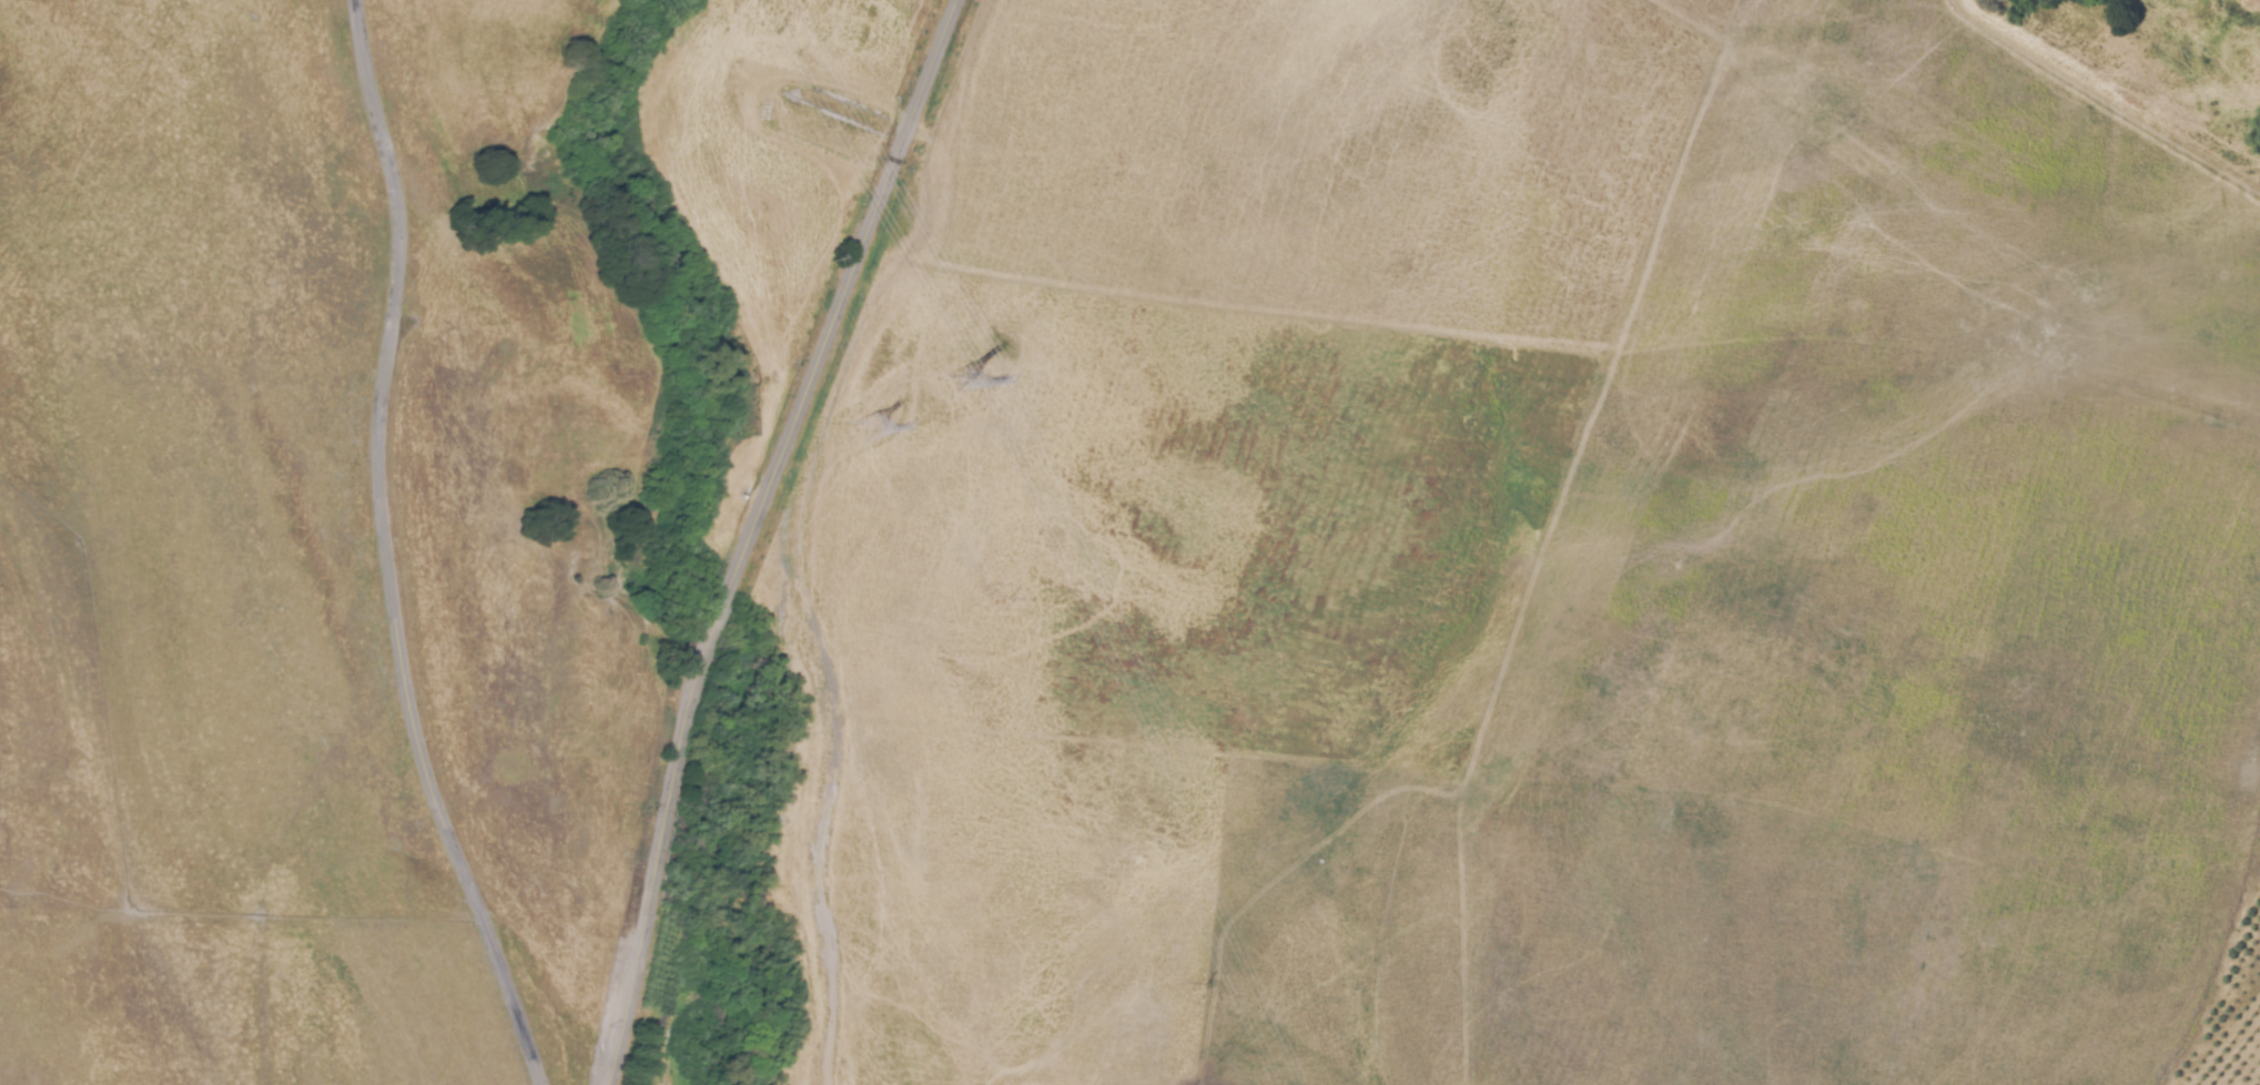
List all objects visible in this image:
building: (825, 112)
power tower: (959, 381)
power tower: (865, 428)
road: (749, 531)
road: (389, 551)

